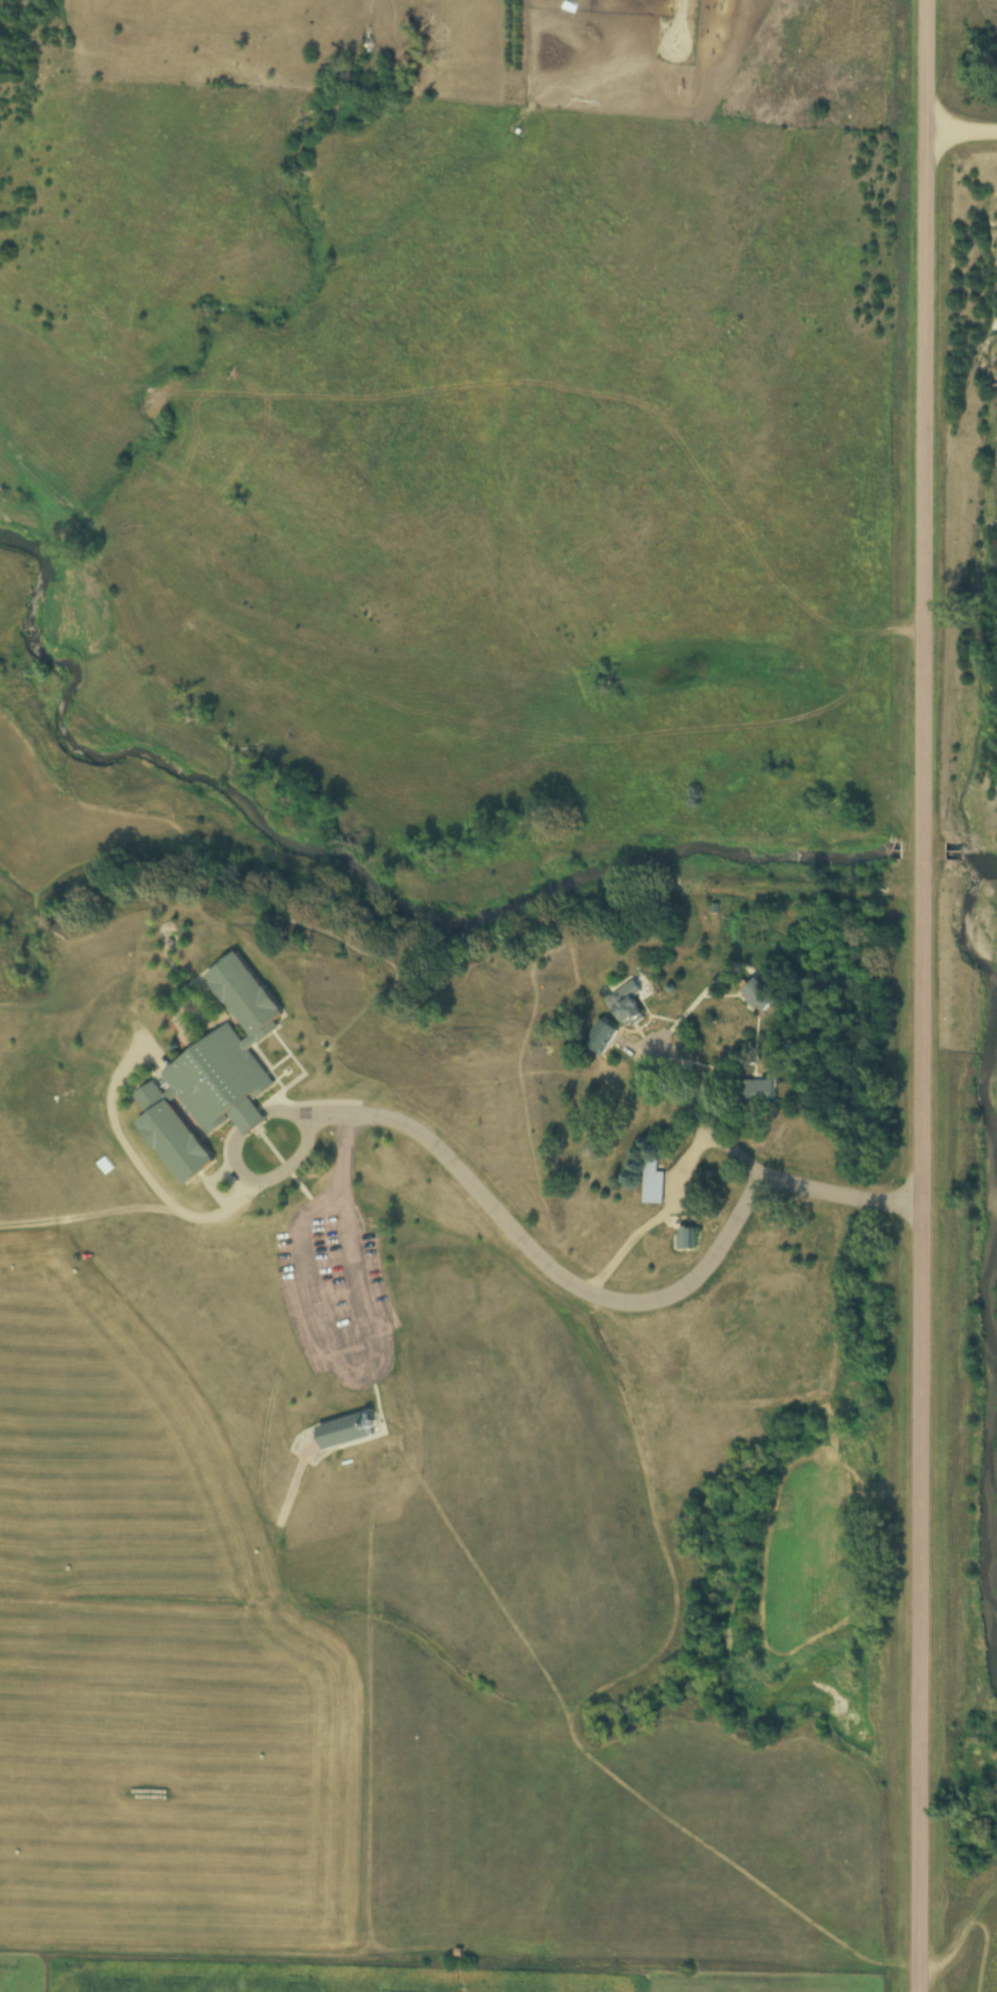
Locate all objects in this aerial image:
road: (962, 127)
river: (919, 842)
river: (356, 875)
road: (923, 996)
building: (761, 1005)
building: (624, 1011)
building: (600, 1047)
building: (211, 1080)
building: (757, 1096)
road: (708, 1131)
road: (236, 1173)
building: (651, 1191)
river: (983, 1238)
building: (687, 1247)
parking lot: (335, 1294)
road: (613, 1302)
road: (377, 1369)

